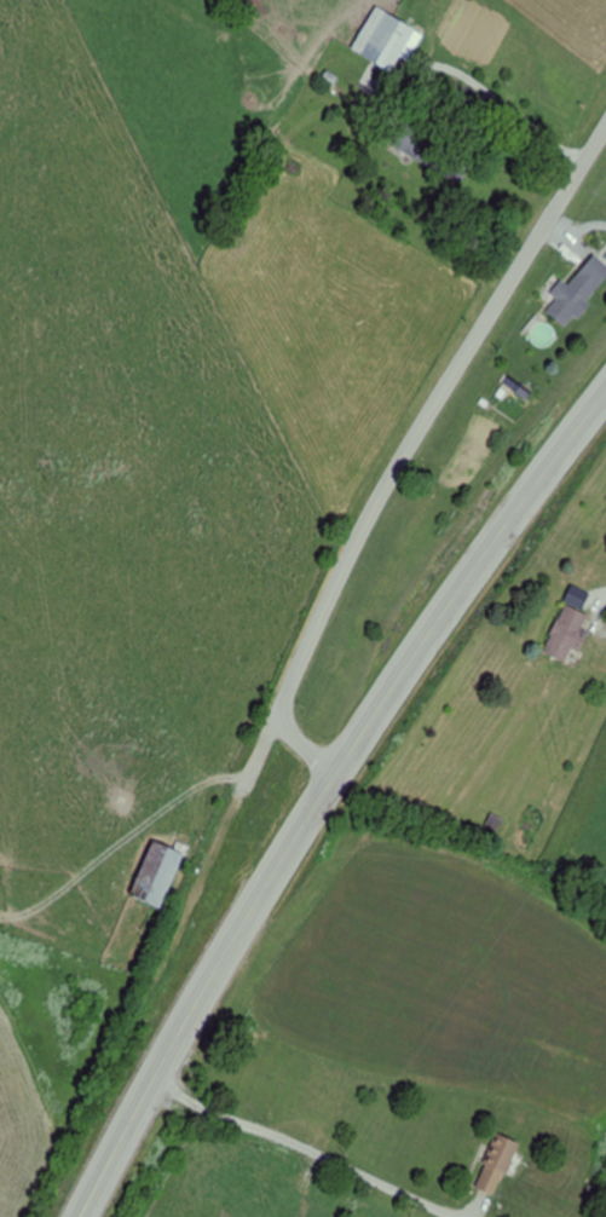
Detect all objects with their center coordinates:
building: (387, 39)
building: (450, 163)
building: (577, 290)
road: (408, 449)
building: (566, 634)
road: (262, 745)
road: (323, 792)
building: (495, 823)
building: (157, 873)
road: (306, 1146)
building: (498, 1160)

